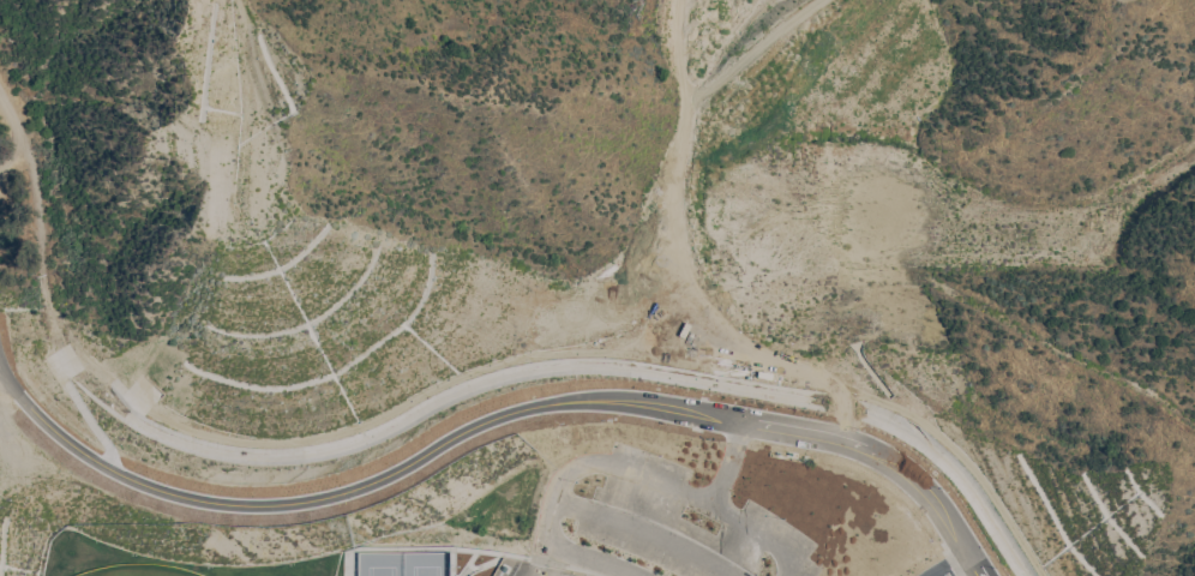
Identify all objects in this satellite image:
road: (747, 52)
road: (16, 133)
road: (679, 232)
road: (840, 402)
road: (490, 419)
road: (851, 434)
road: (726, 462)
road: (615, 468)
road: (645, 530)
road: (943, 547)
road: (494, 553)
road: (492, 559)
park: (403, 563)
road: (948, 564)
road: (472, 565)
road: (563, 565)
road: (949, 565)
park: (139, 570)

